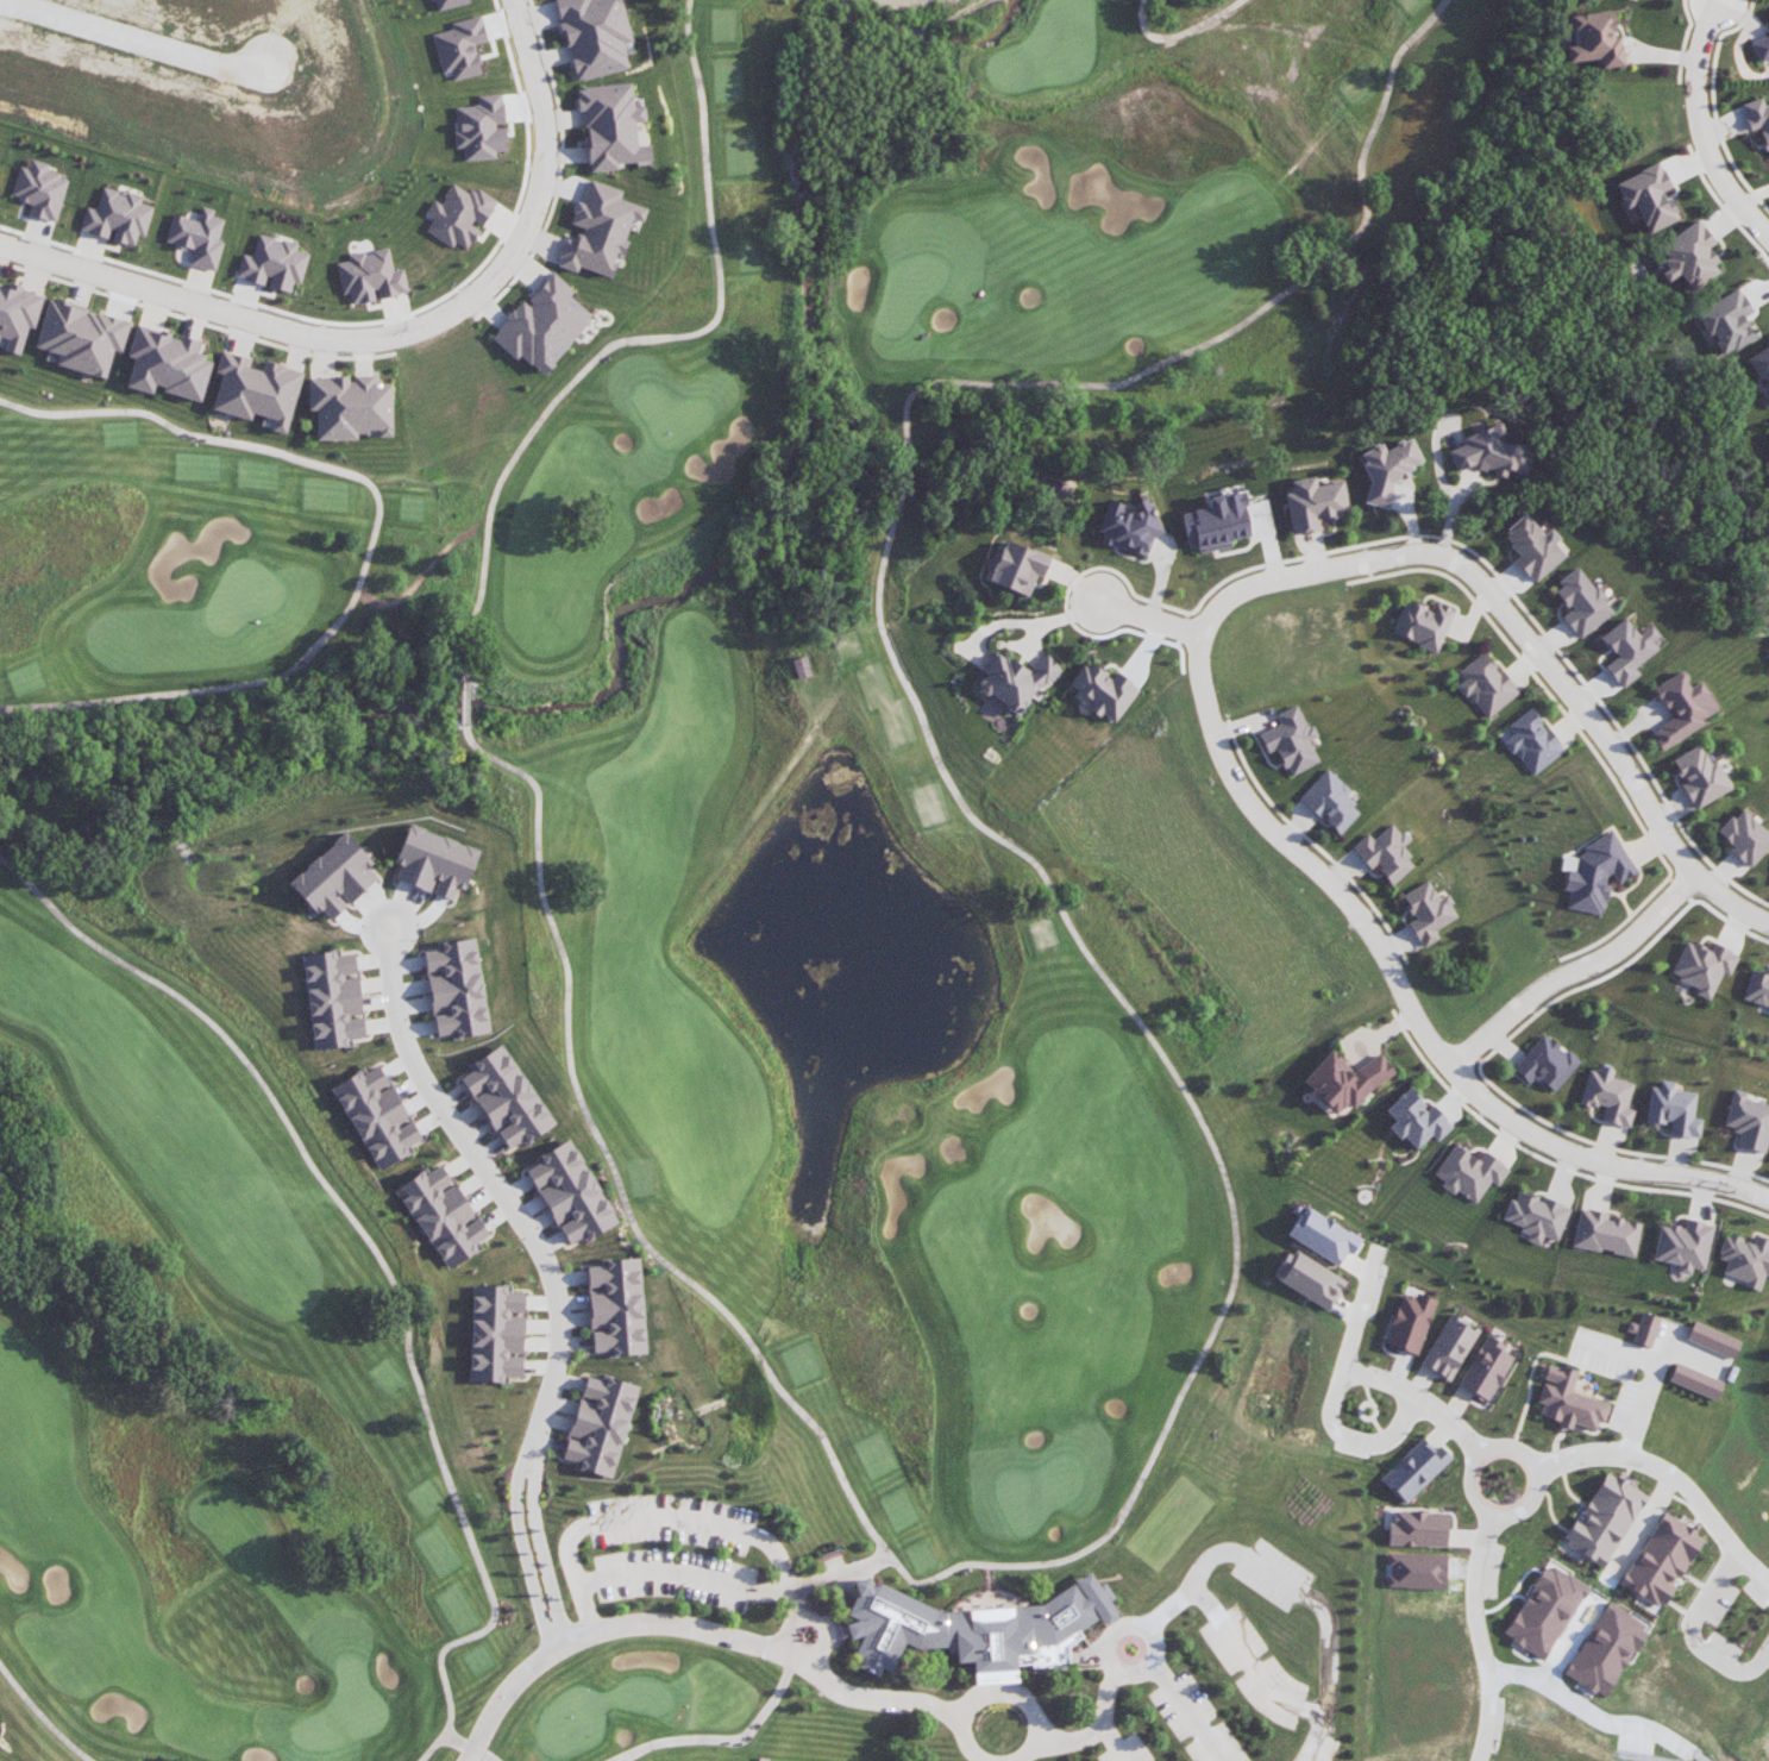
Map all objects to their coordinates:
building: (448, 4)
road: (1180, 35)
building: (594, 36)
building: (1594, 38)
building: (459, 46)
building: (1761, 48)
building: (1757, 118)
building: (610, 126)
building: (479, 127)
road: (1700, 130)
building: (40, 189)
building: (1648, 196)
building: (459, 214)
building: (118, 215)
building: (598, 228)
building: (197, 237)
building: (1690, 256)
building: (272, 263)
building: (370, 276)
building: (13, 314)
building: (1727, 320)
building: (542, 324)
building: (76, 333)
road: (395, 333)
road: (639, 338)
building: (164, 361)
building: (1762, 365)
building: (256, 383)
building: (351, 405)
building: (1489, 451)
building: (1387, 469)
building: (1313, 502)
building: (1216, 522)
building: (1127, 525)
road: (372, 543)
building: (1531, 547)
building: (1017, 566)
road: (1152, 618)
building: (1423, 622)
road: (1523, 634)
building: (1627, 650)
building: (1012, 681)
building: (1486, 684)
building: (1104, 690)
road: (463, 702)
building: (1682, 707)
building: (1291, 740)
building: (1532, 741)
road: (940, 764)
building: (1700, 776)
building: (1330, 800)
building: (1745, 836)
building: (1386, 852)
park: (653, 863)
building: (422, 864)
building: (1597, 872)
building: (321, 883)
building: (1428, 911)
road: (390, 941)
building: (1704, 966)
road: (1573, 970)
building: (1757, 986)
building: (459, 988)
road: (1405, 998)
building: (338, 1004)
building: (1768, 1013)
building: (1545, 1063)
building: (1343, 1079)
building: (506, 1095)
building: (1608, 1095)
building: (379, 1105)
building: (1674, 1109)
building: (1414, 1118)
building: (1749, 1121)
road: (610, 1159)
building: (1468, 1172)
building: (563, 1191)
building: (443, 1211)
building: (1536, 1216)
building: (1605, 1232)
building: (1323, 1235)
building: (1682, 1245)
building: (1745, 1259)
road: (382, 1260)
building: (1309, 1278)
road: (552, 1281)
building: (615, 1304)
building: (1410, 1322)
building: (1645, 1329)
building: (496, 1331)
building: (1713, 1339)
building: (1449, 1347)
building: (1486, 1368)
building: (1695, 1380)
road: (1334, 1389)
road: (1645, 1396)
building: (1568, 1399)
road: (1418, 1400)
building: (600, 1423)
building: (1414, 1468)
road: (1536, 1469)
road: (1671, 1474)
road: (679, 1514)
building: (1605, 1518)
building: (1418, 1528)
building: (1661, 1559)
road: (683, 1573)
road: (839, 1574)
road: (1298, 1587)
building: (1545, 1610)
building: (977, 1629)
road: (826, 1631)
road: (1692, 1634)
road: (1480, 1636)
road: (1230, 1641)
road: (767, 1648)
building: (1604, 1650)
road: (1105, 1654)
road: (999, 1688)
road: (503, 1693)
park: (698, 1712)
road: (43, 1713)
road: (1184, 1713)
road: (1094, 1731)
road: (1311, 1738)
road: (726, 1740)
road: (1109, 1744)
road: (470, 1747)

